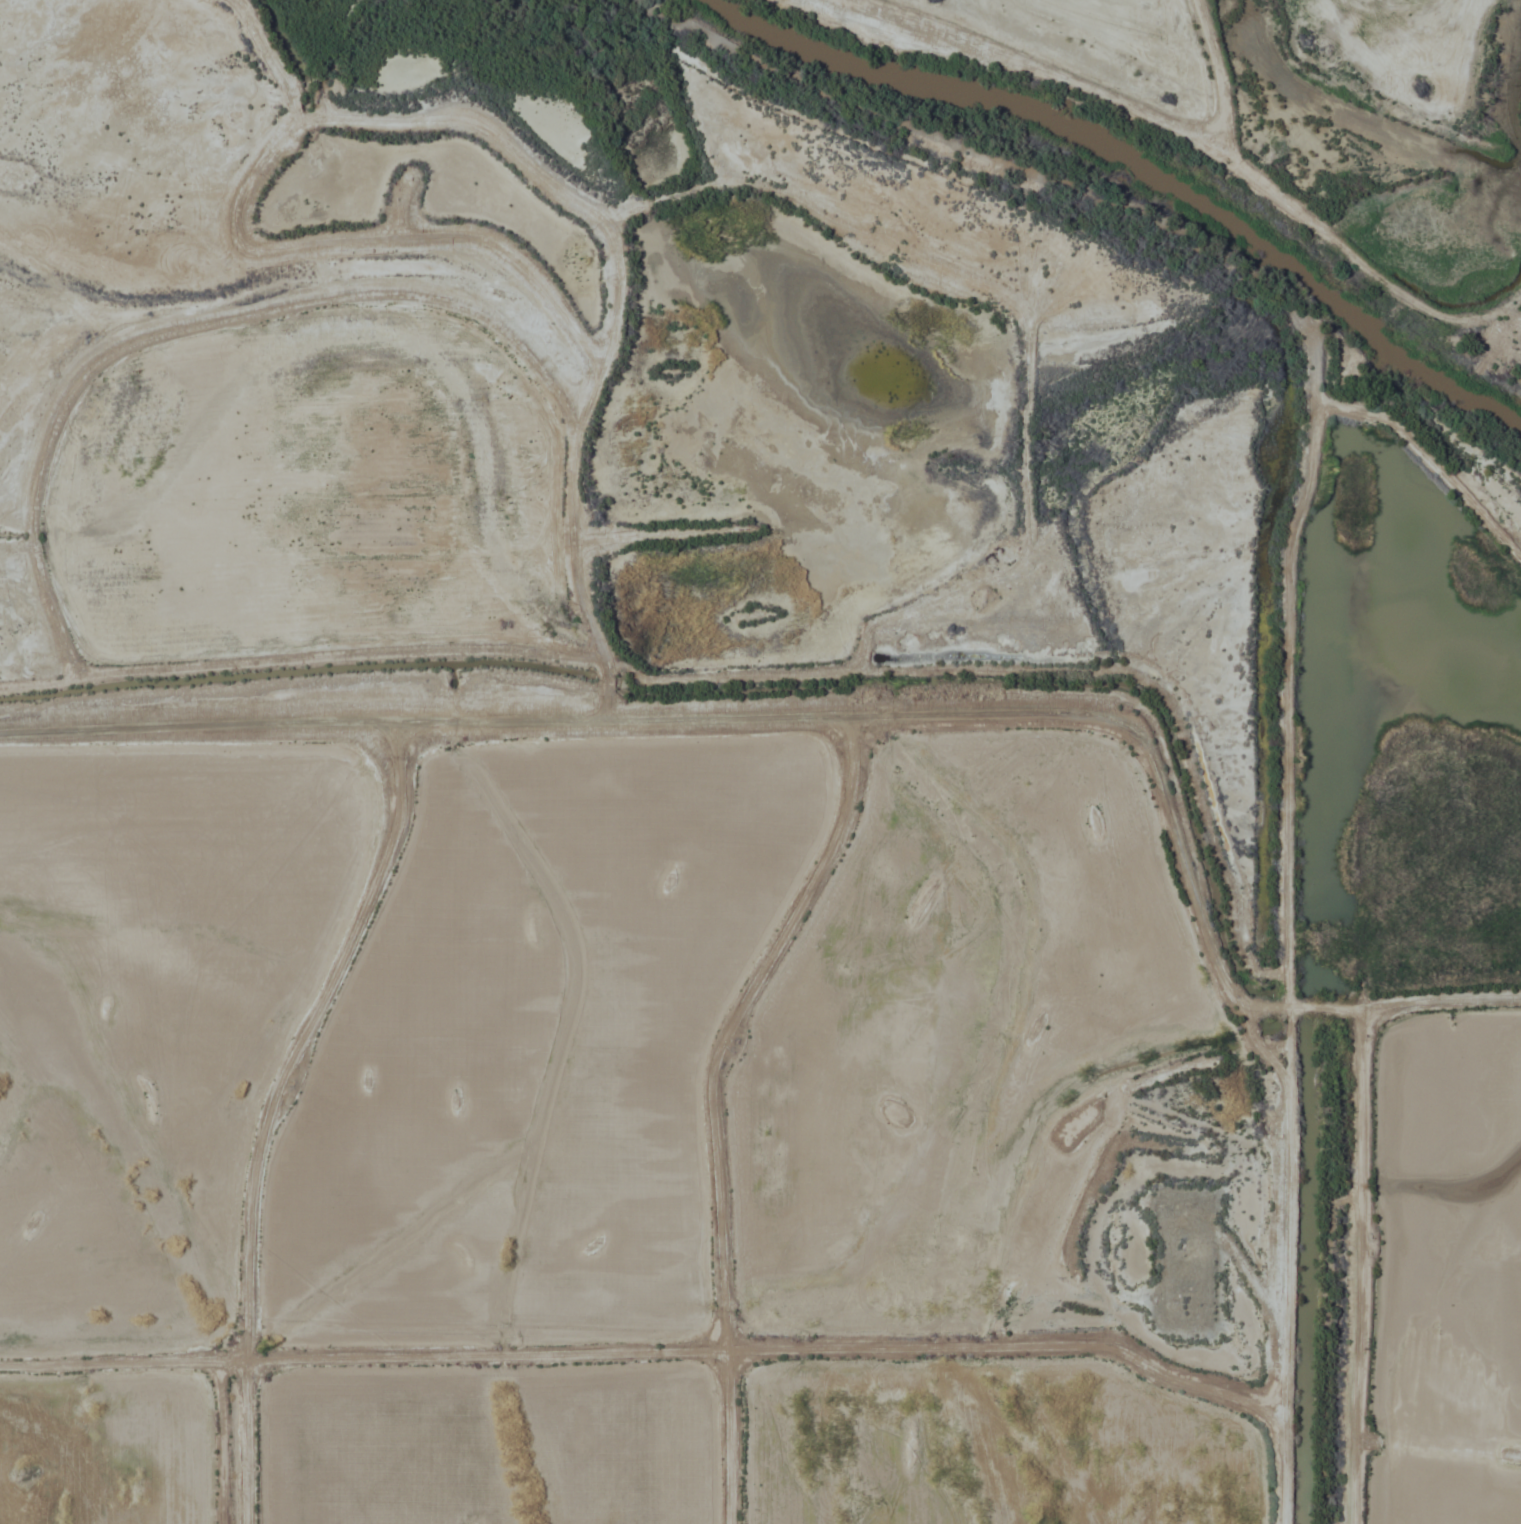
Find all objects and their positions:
river: (1170, 165)
road: (1308, 974)

